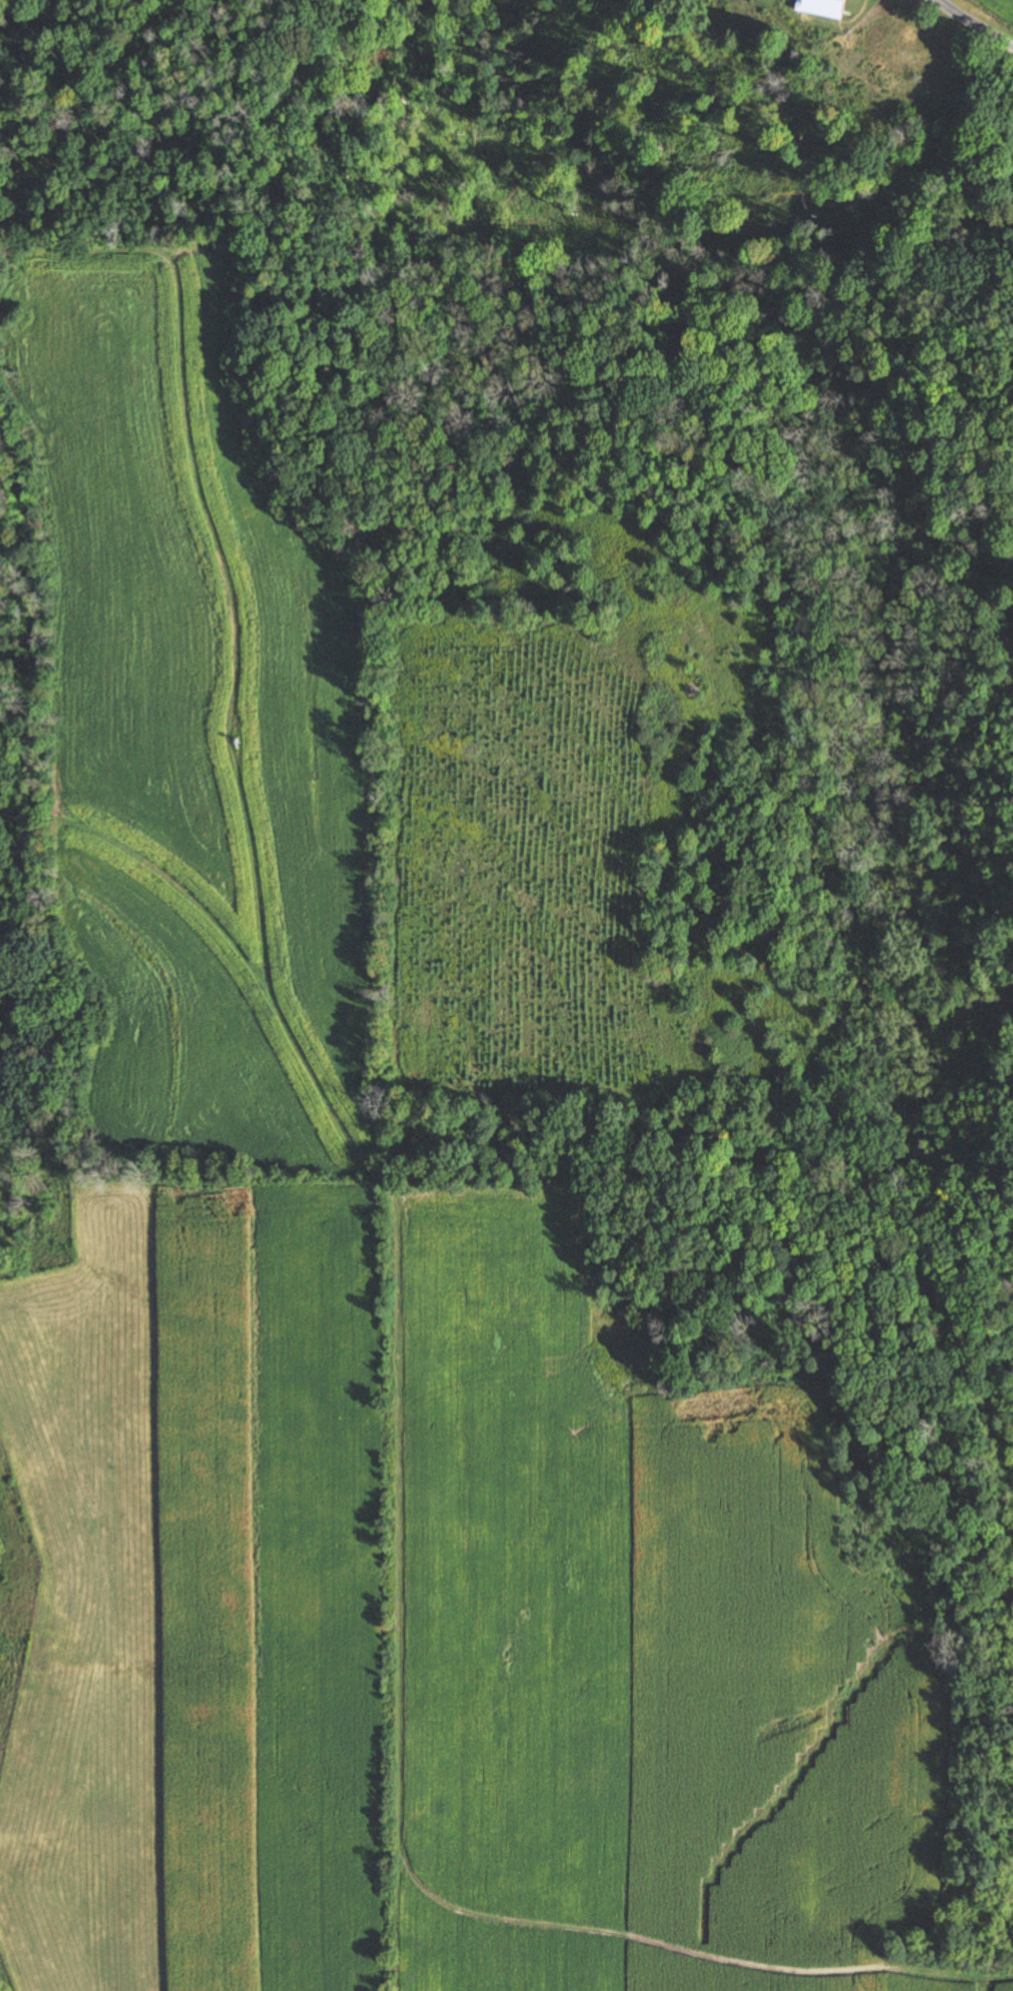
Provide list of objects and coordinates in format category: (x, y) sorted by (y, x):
road: (978, 23)

